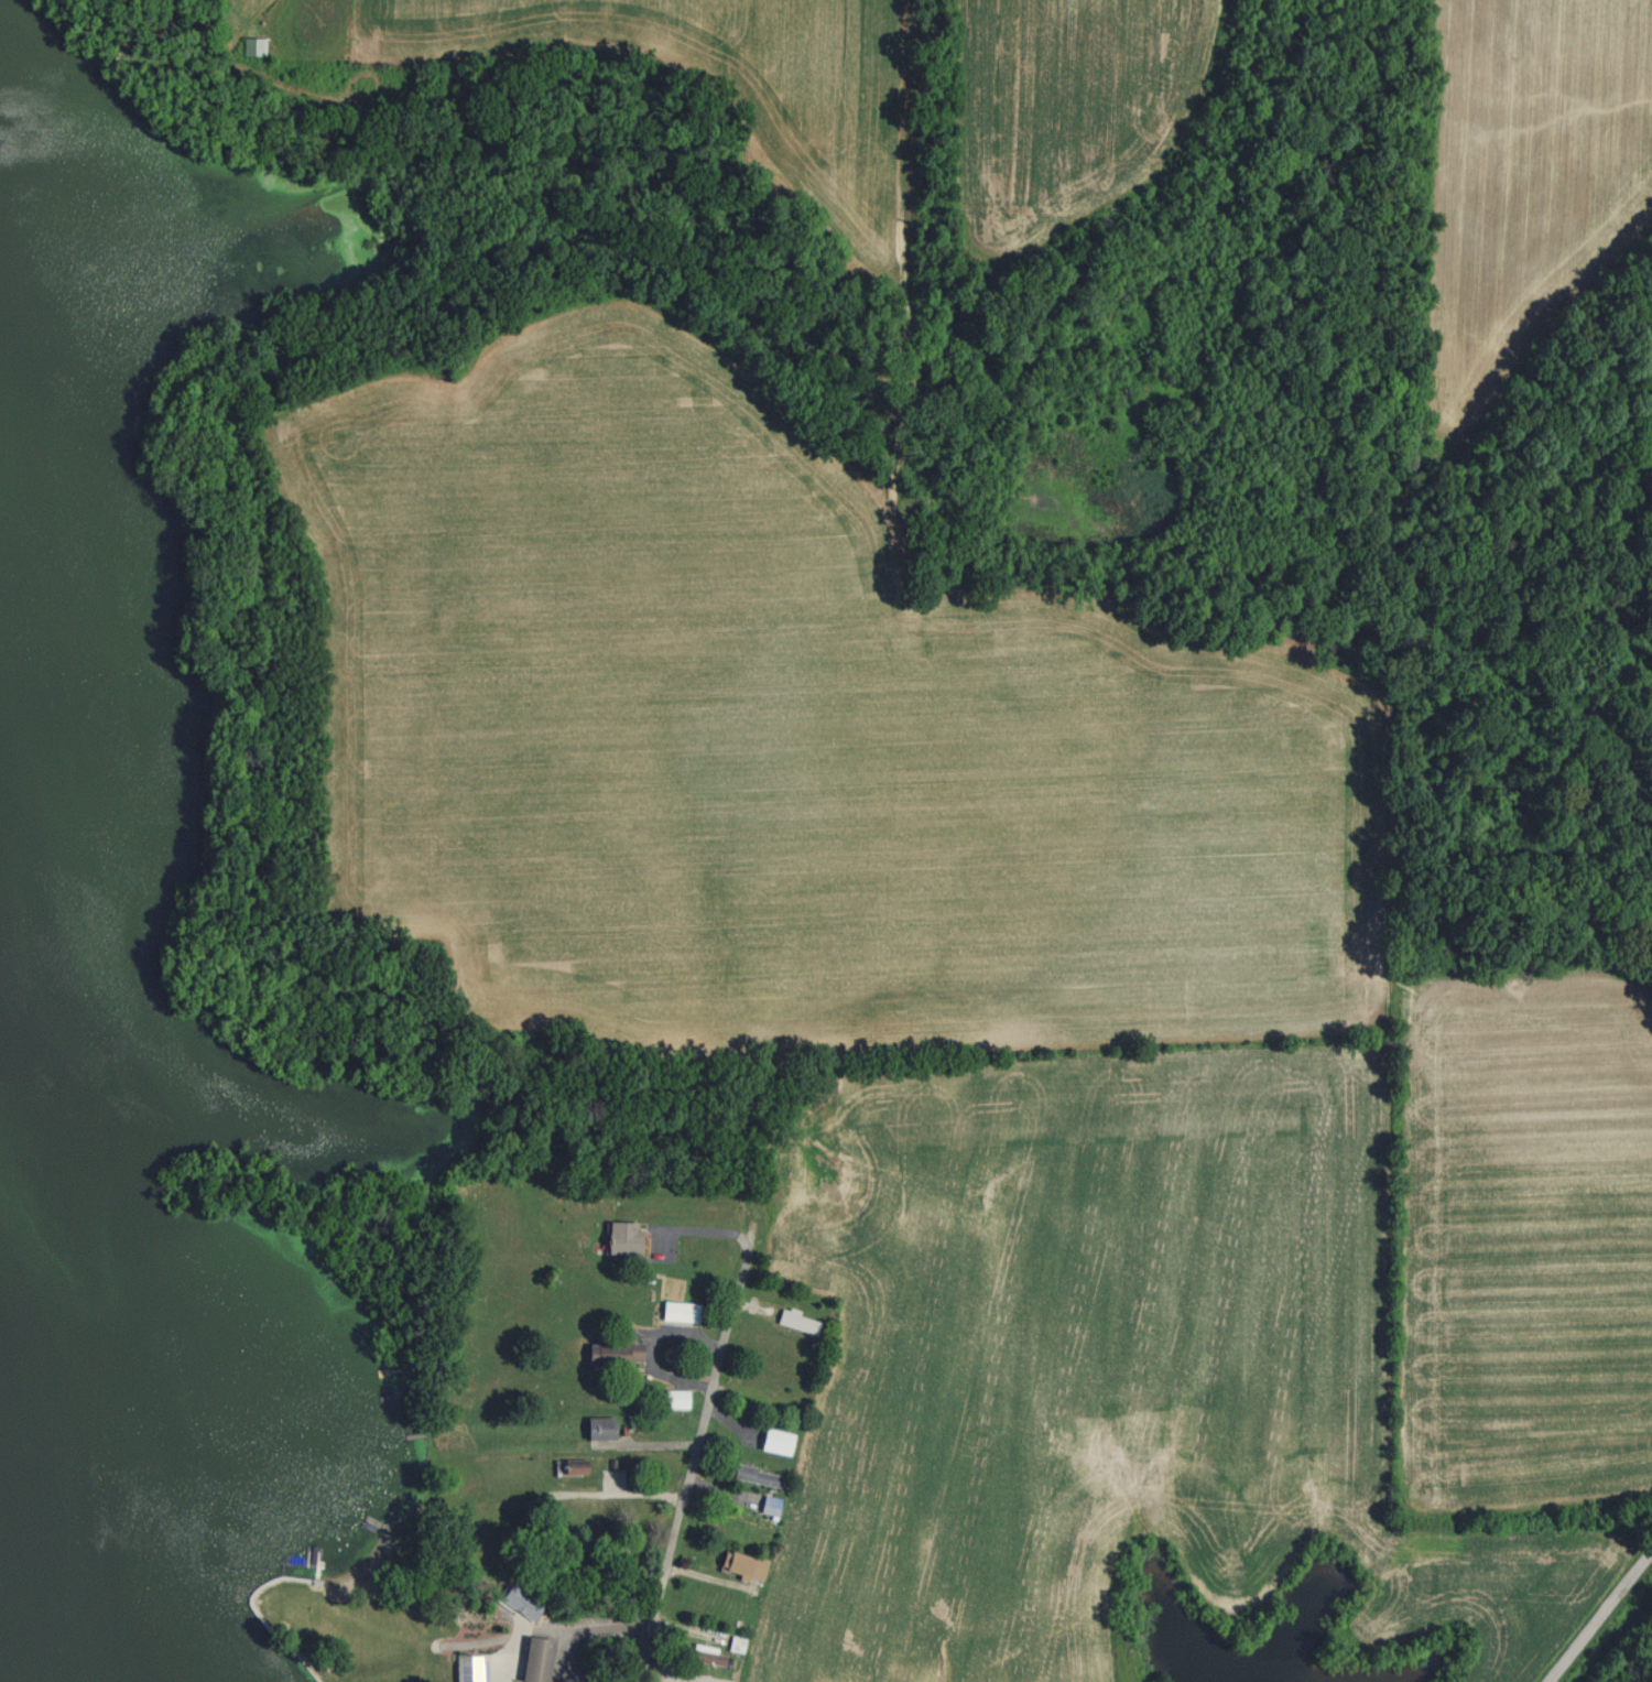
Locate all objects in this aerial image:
building: (623, 1236)
building: (680, 1311)
building: (797, 1321)
building: (612, 1354)
building: (675, 1398)
road: (705, 1412)
building: (599, 1428)
building: (774, 1441)
building: (574, 1468)
building: (758, 1475)
building: (769, 1506)
building: (745, 1564)
building: (521, 1600)
road: (1602, 1619)
building: (736, 1643)
building: (707, 1657)
building: (536, 1659)
building: (470, 1668)
building: (688, 1676)
park: (1643, 1679)

